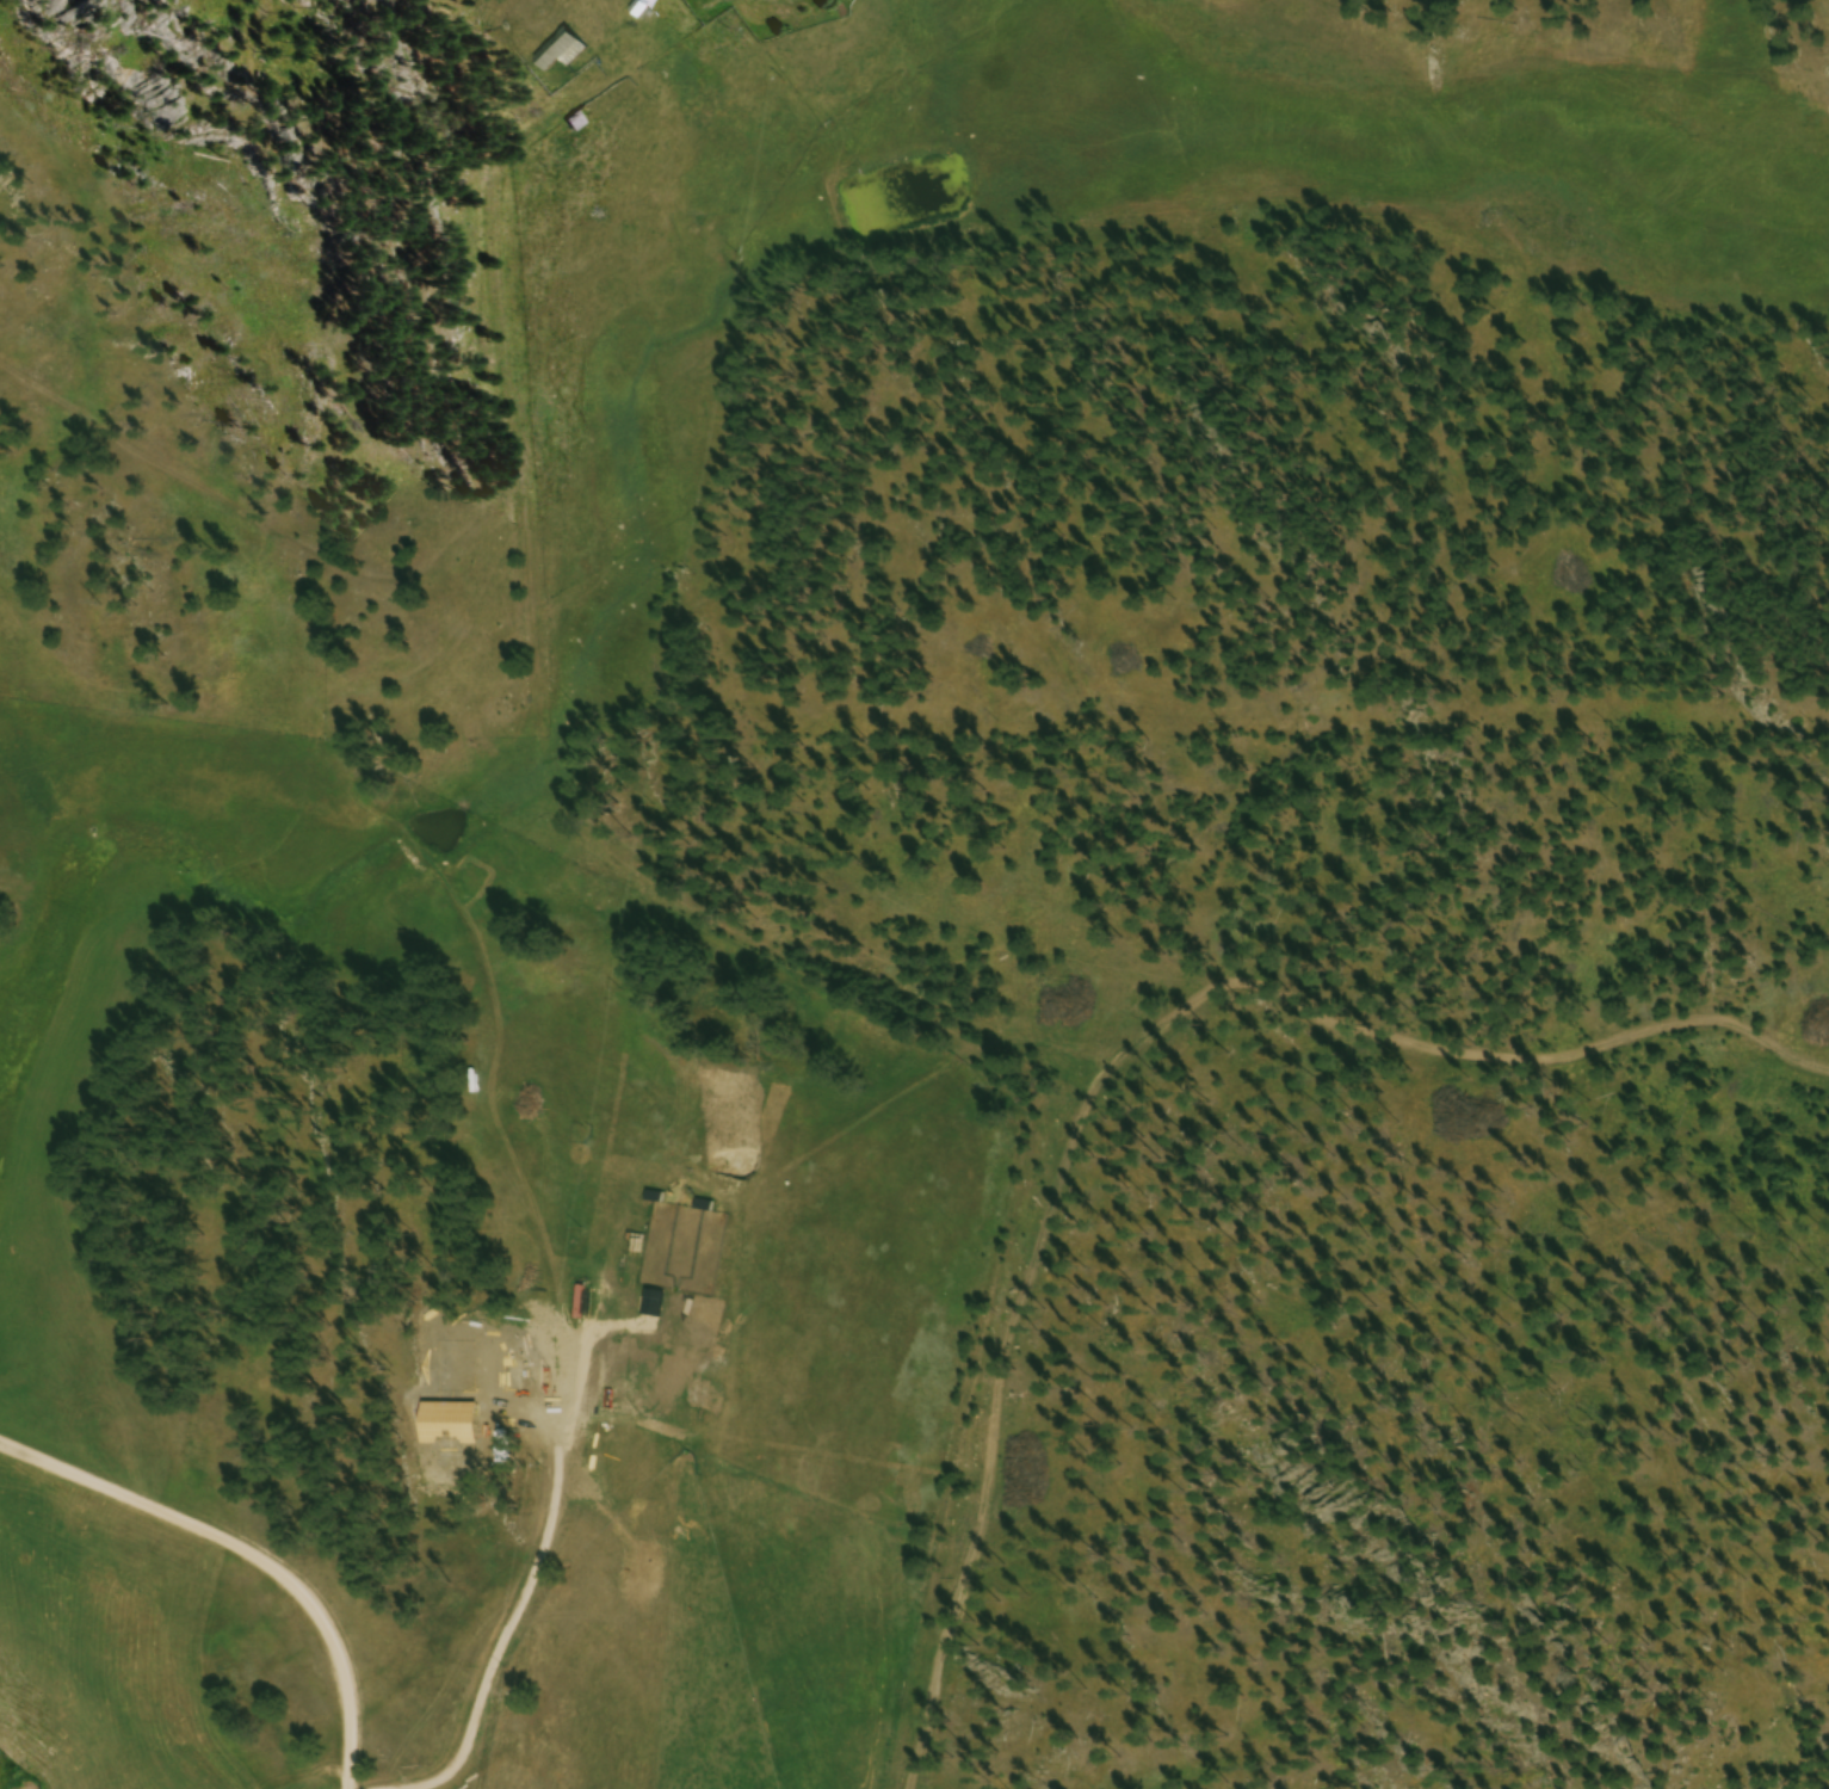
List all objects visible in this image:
building: (562, 54)
road: (1122, 1061)
road: (247, 1554)

